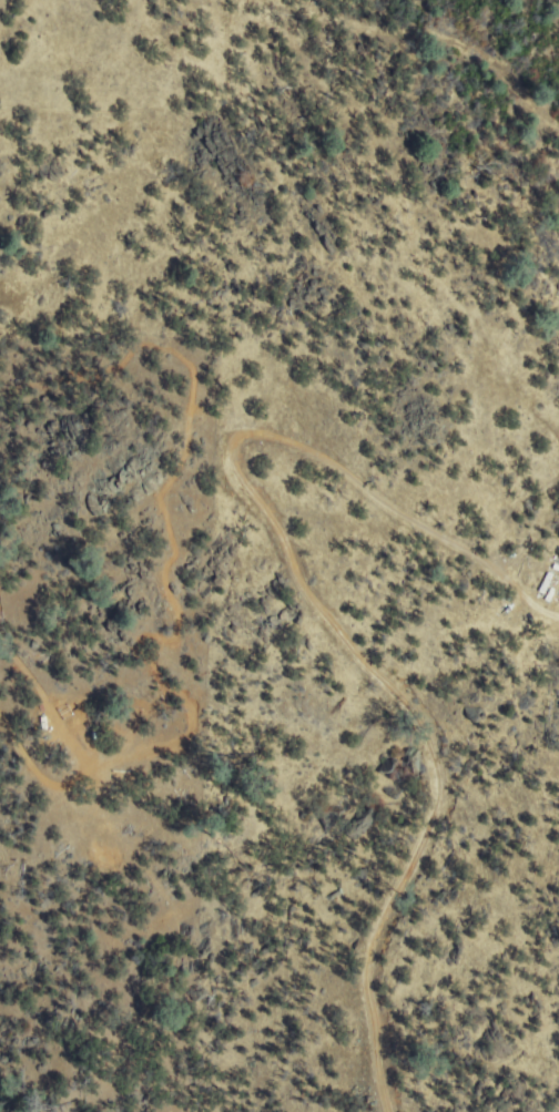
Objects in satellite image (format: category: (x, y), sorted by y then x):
building: (553, 568)
building: (545, 583)
building: (550, 594)

